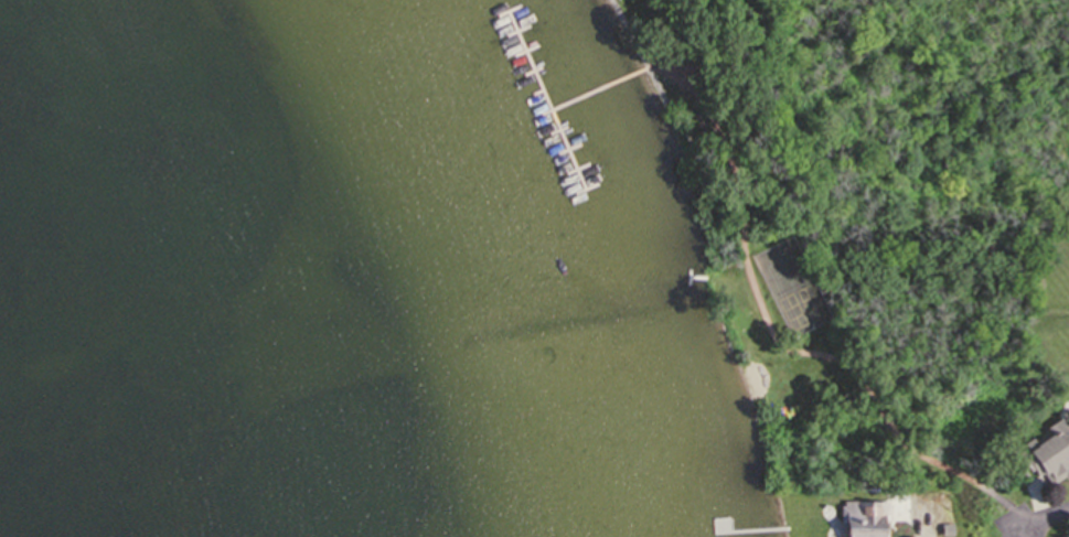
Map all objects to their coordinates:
park: (793, 289)
road: (763, 316)
building: (1046, 451)
building: (881, 500)
building: (830, 517)
road: (1044, 518)
building: (865, 519)

